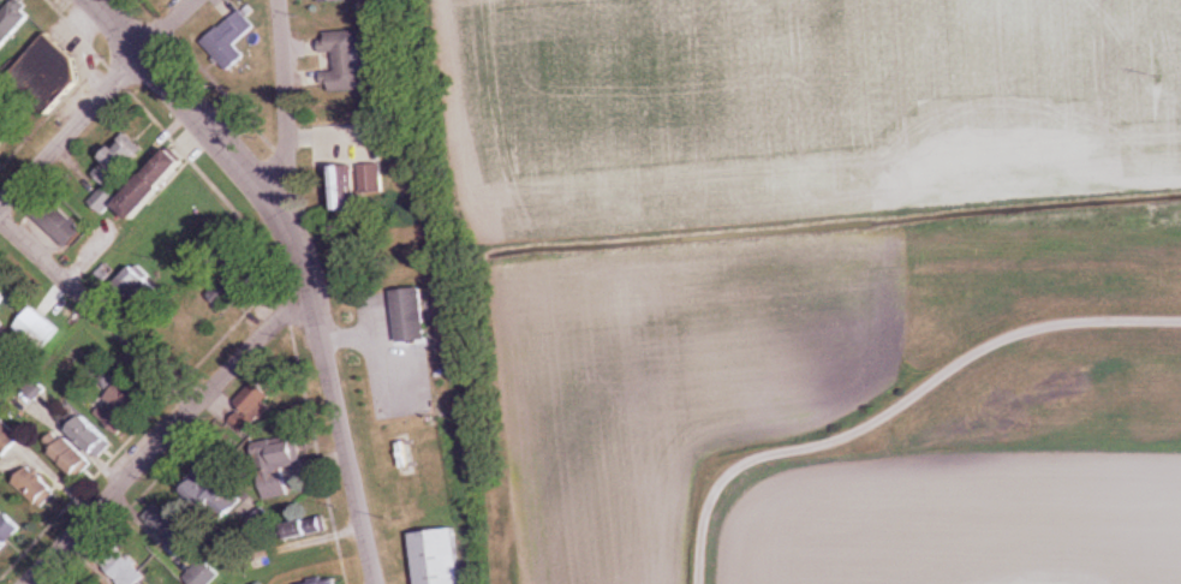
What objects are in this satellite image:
building: (333, 1)
building: (13, 19)
road: (169, 25)
building: (231, 41)
building: (346, 61)
road: (284, 105)
road: (190, 106)
road: (71, 129)
building: (4, 138)
building: (117, 174)
building: (372, 180)
building: (156, 185)
building: (351, 190)
building: (59, 221)
building: (137, 286)
building: (225, 291)
building: (2, 299)
road: (99, 312)
building: (412, 316)
building: (2, 327)
road: (334, 397)
building: (121, 406)
building: (251, 407)
road: (901, 407)
road: (168, 434)
building: (8, 439)
building: (94, 439)
building: (278, 454)
building: (72, 458)
building: (36, 488)
building: (211, 494)
building: (262, 523)
building: (168, 528)
building: (306, 529)
building: (7, 530)
building: (440, 558)
building: (203, 573)
building: (333, 582)

